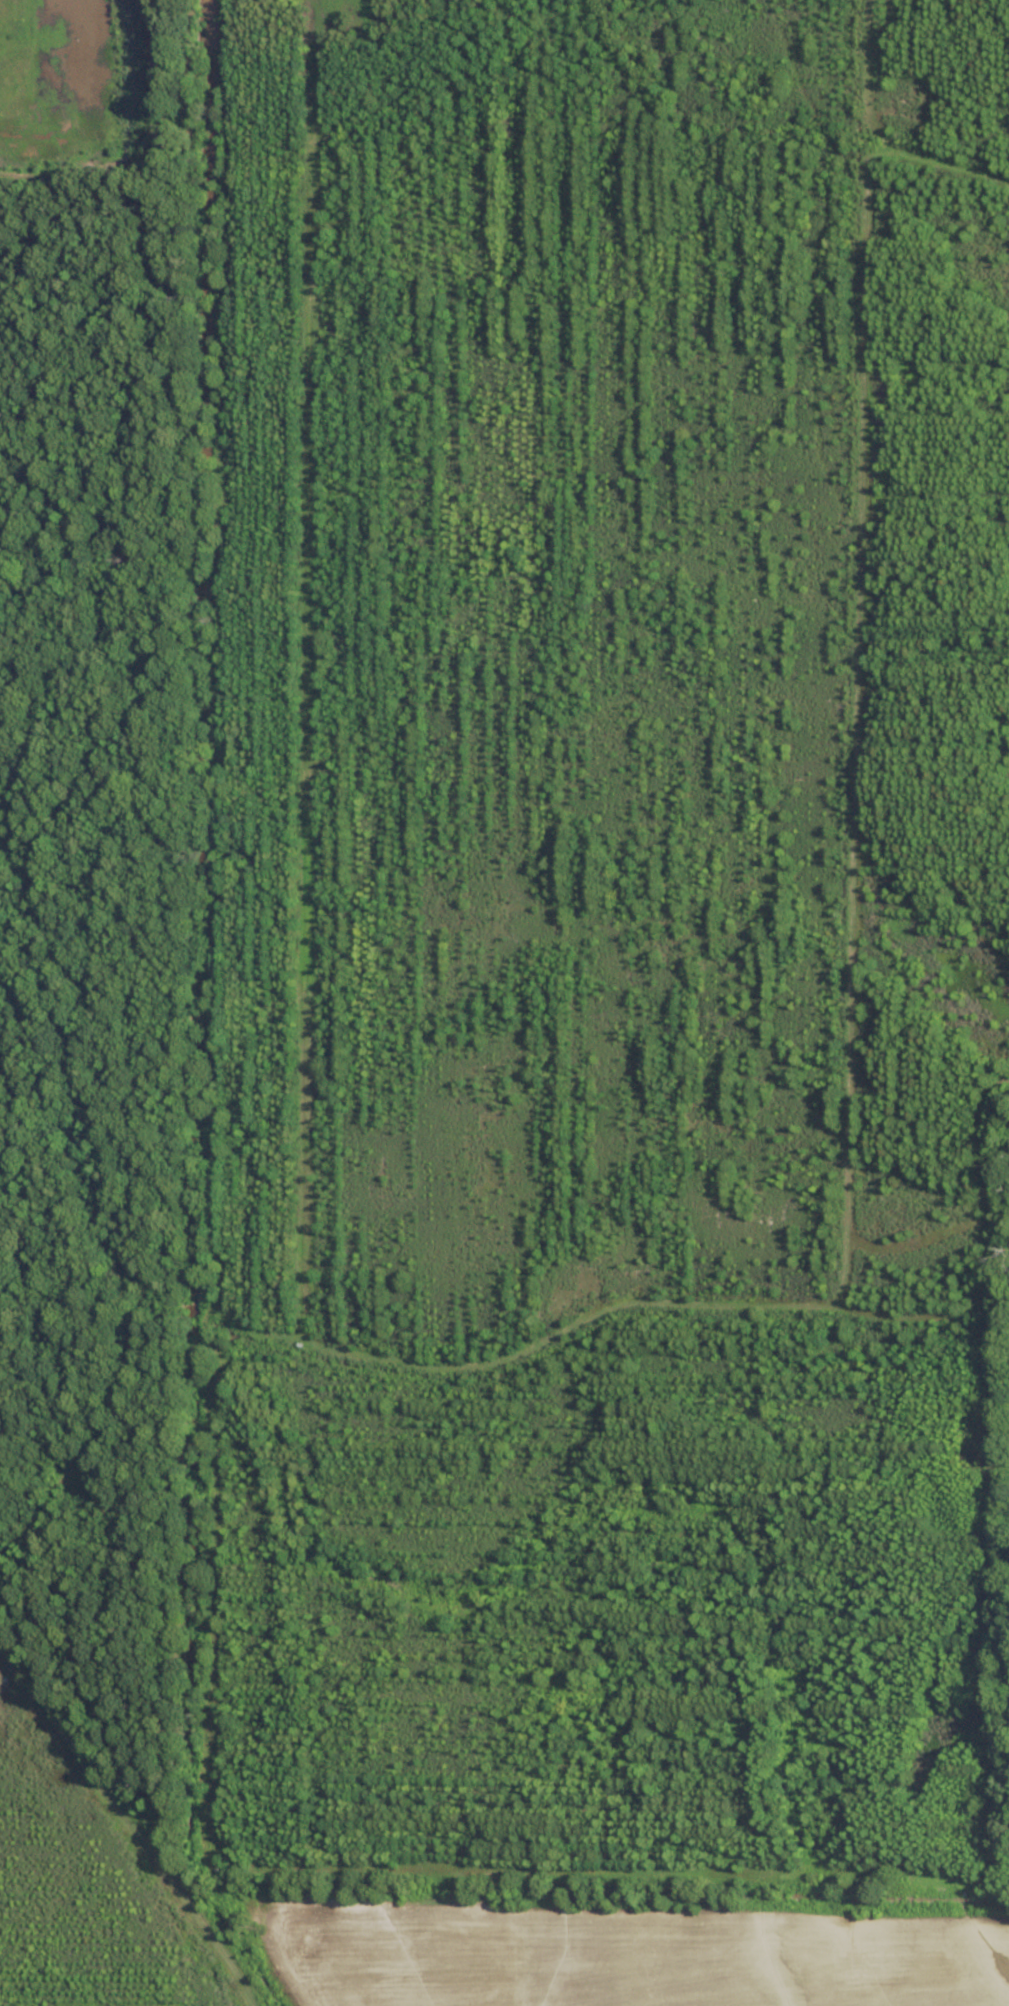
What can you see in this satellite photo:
road: (126, 1827)

